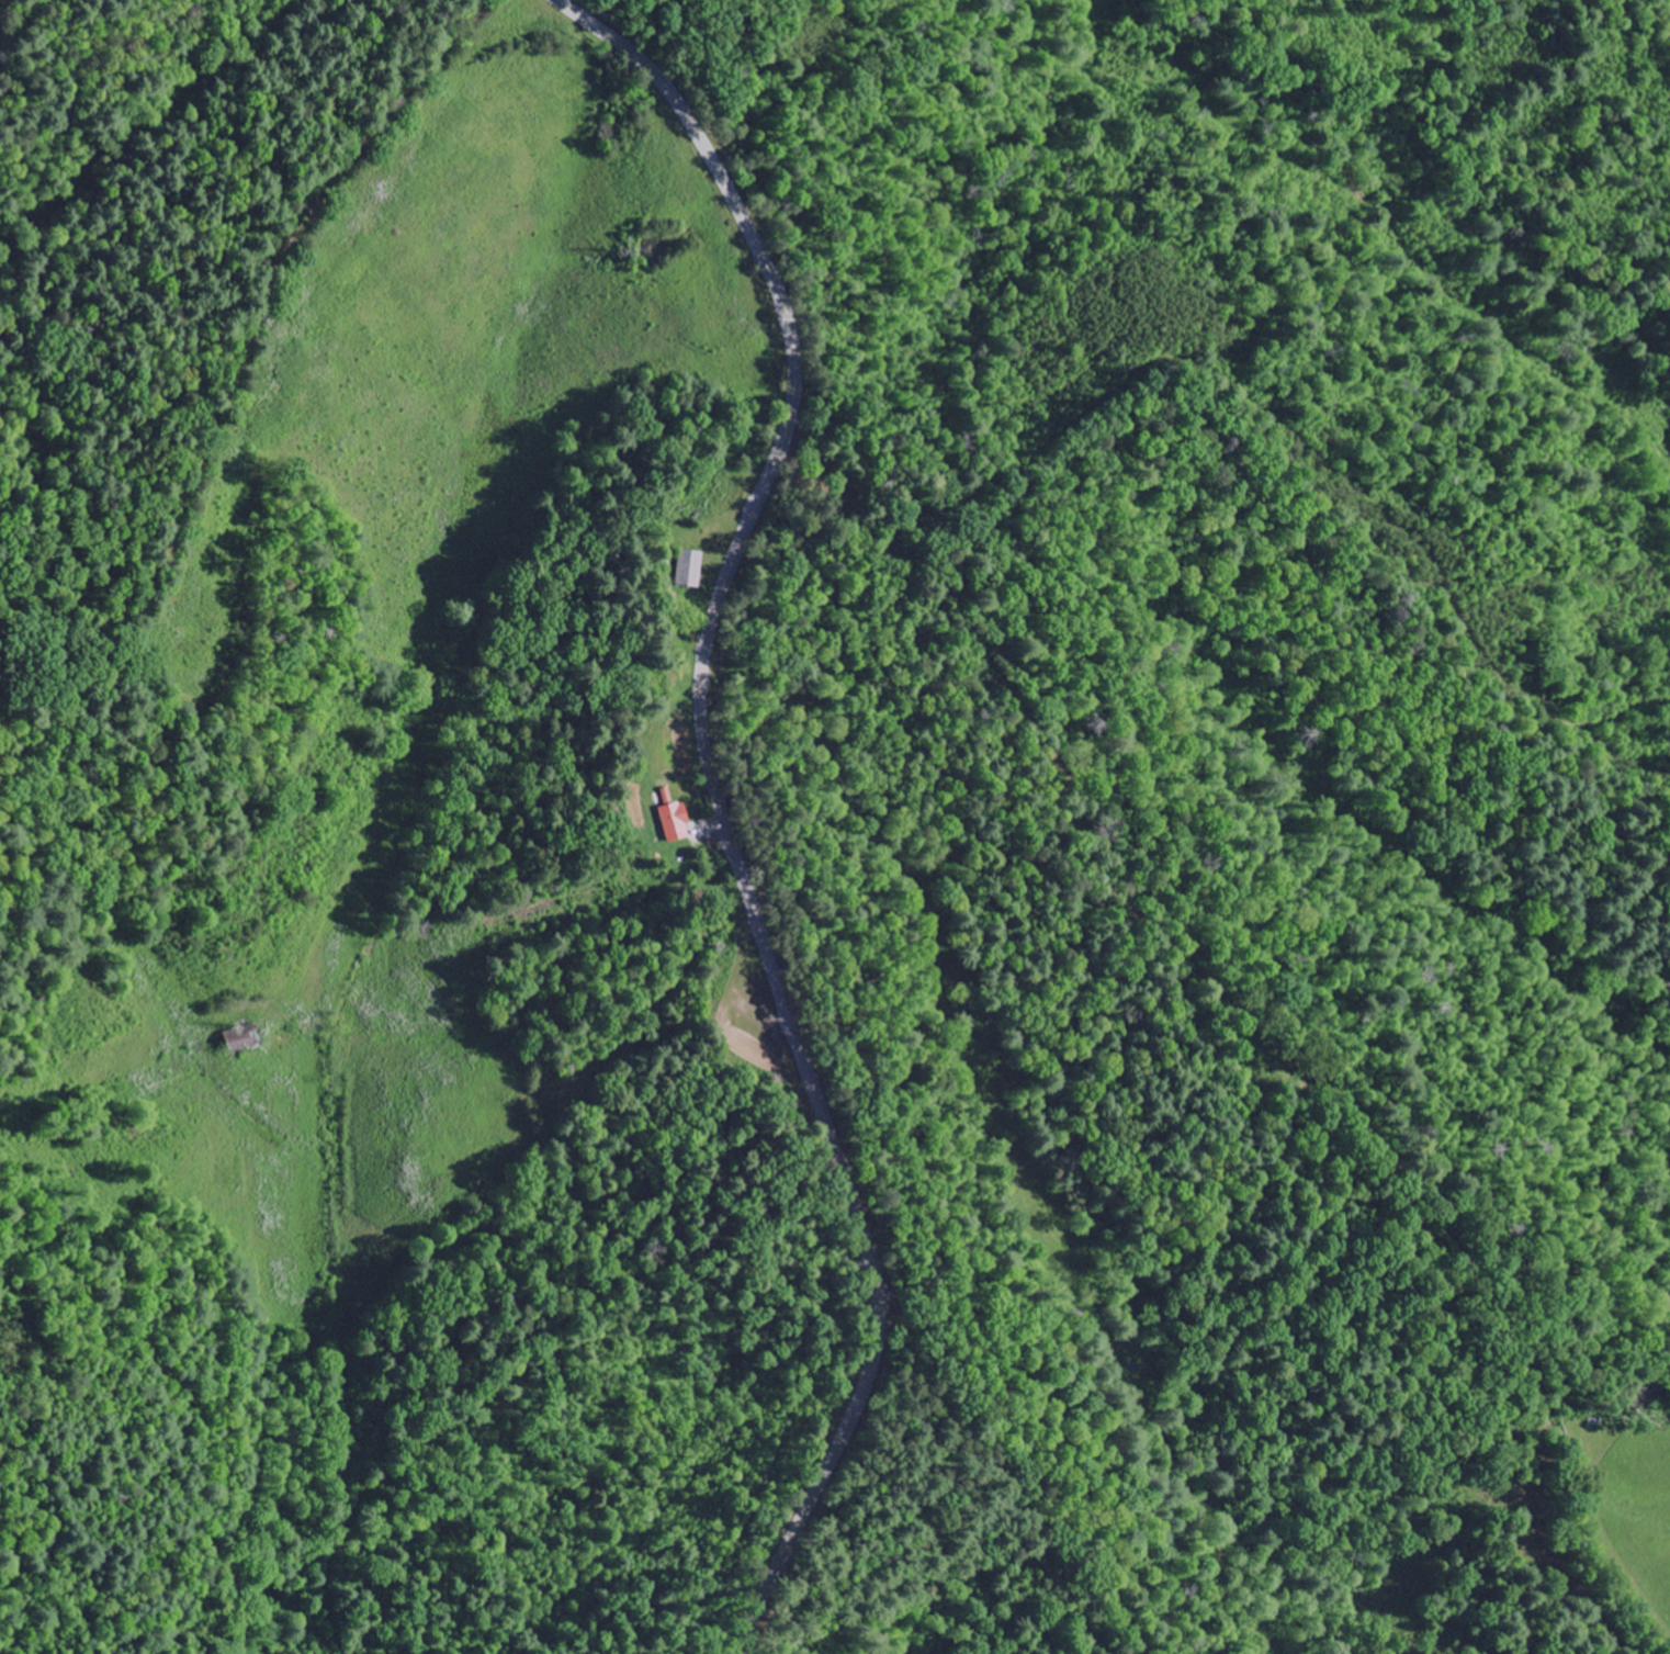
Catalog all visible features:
building: (681, 569)
road: (718, 803)
building: (668, 823)
road: (588, 1079)

